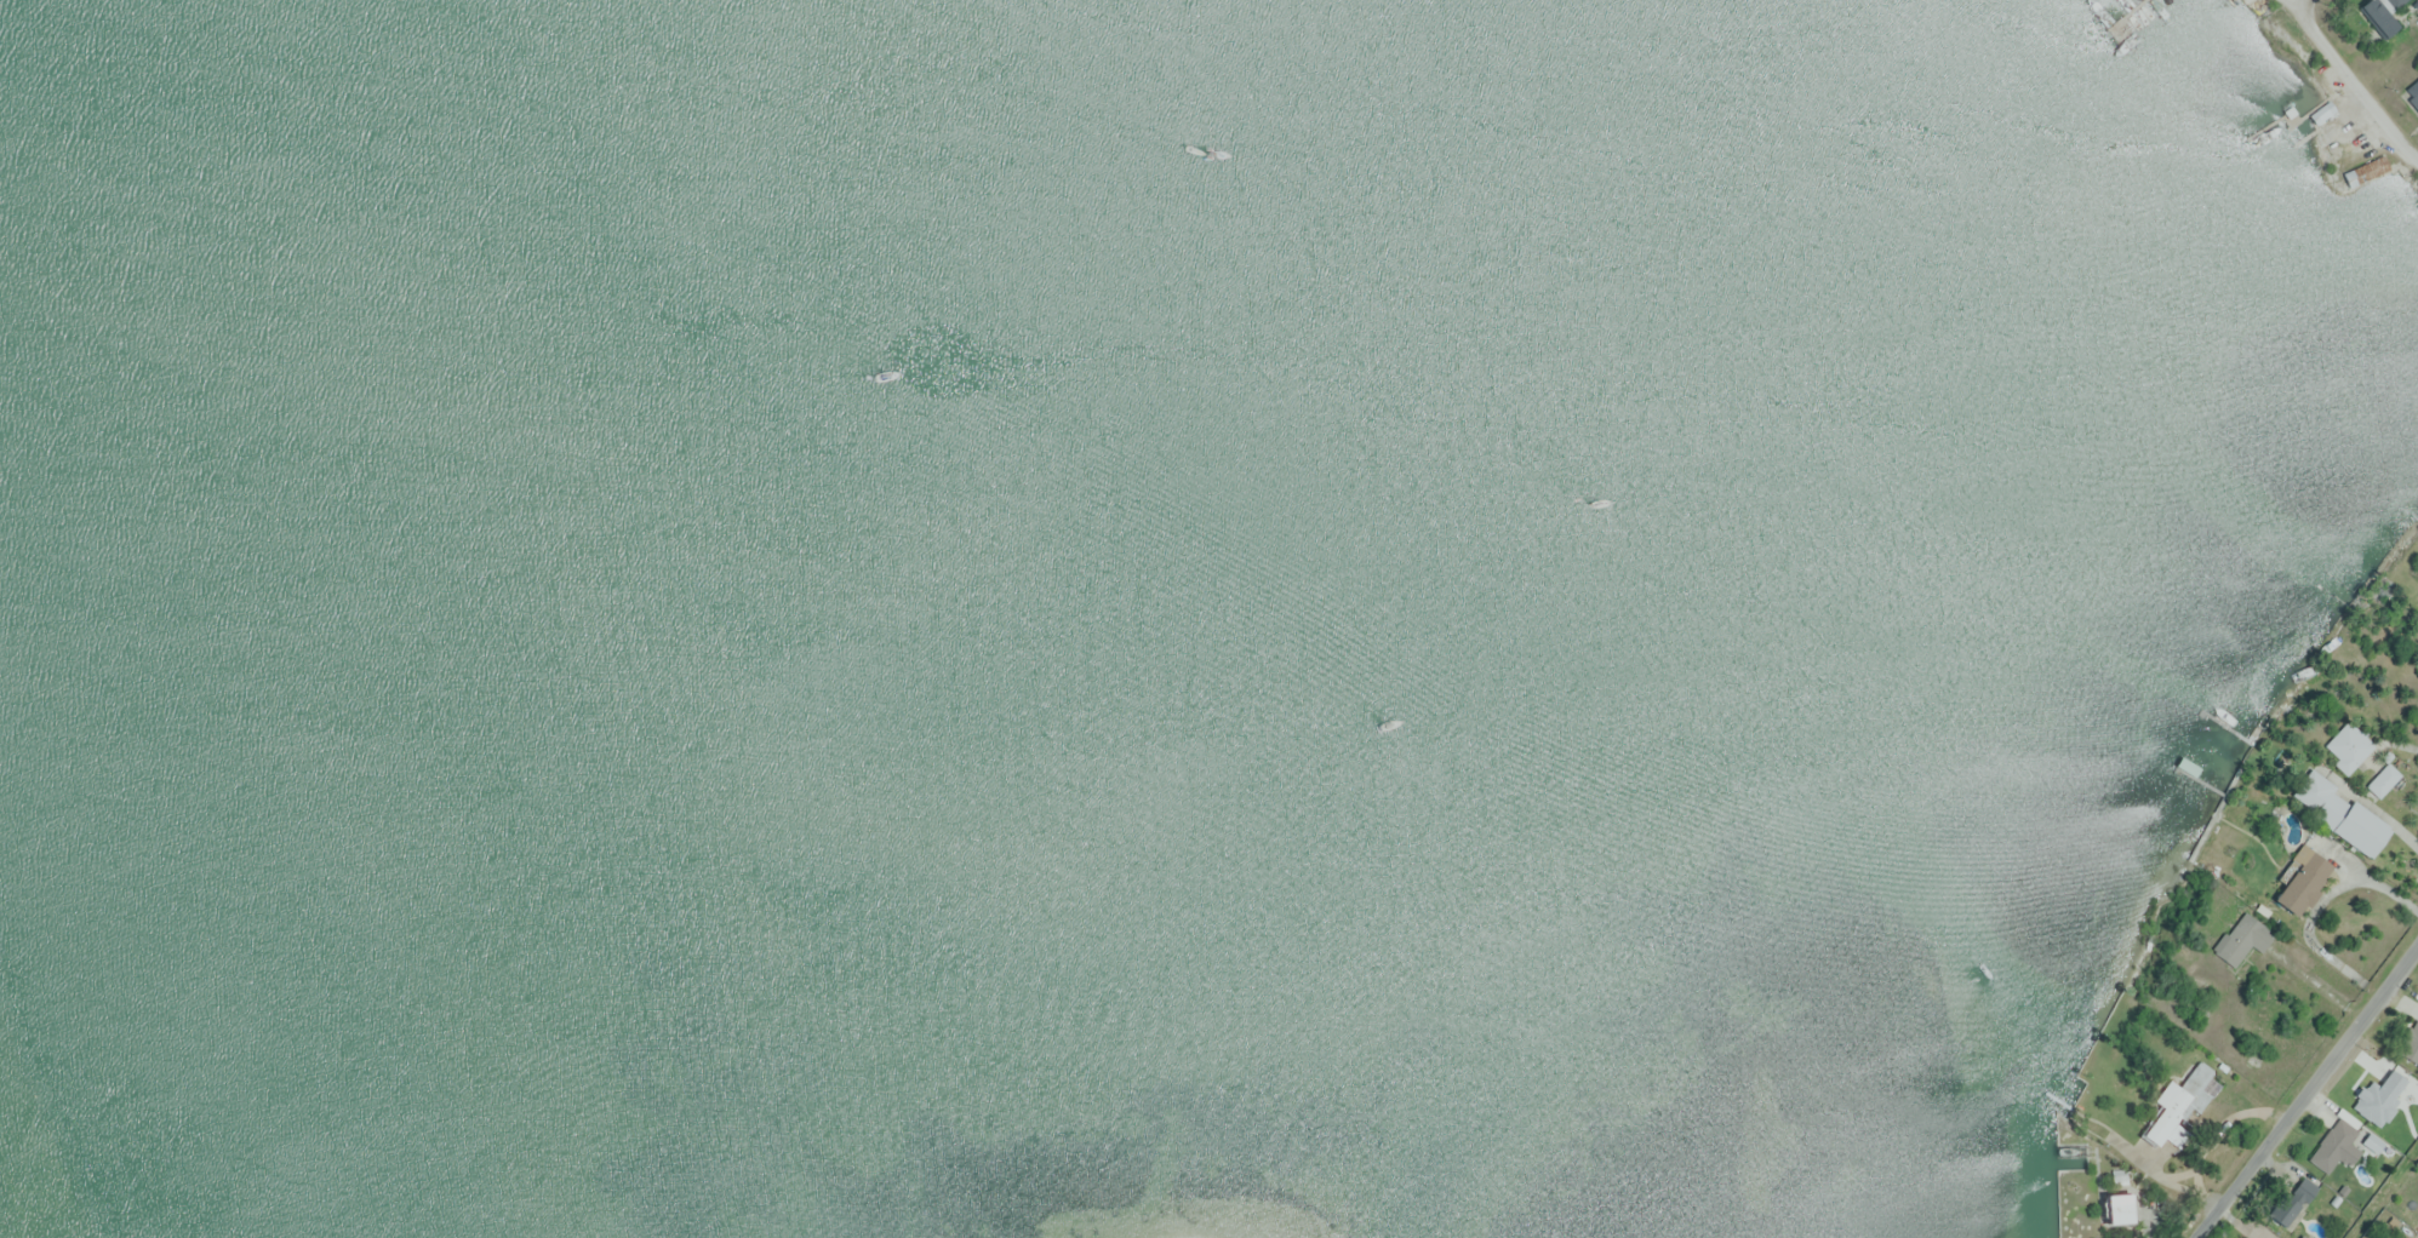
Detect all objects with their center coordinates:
building: (2394, 4)
building: (2378, 17)
road: (2354, 80)
building: (2412, 96)
building: (2319, 114)
building: (2366, 171)
building: (2349, 745)
building: (2383, 779)
building: (2339, 812)
road: (2384, 813)
building: (2300, 881)
building: (2241, 939)
building: (2411, 1043)
road: (2309, 1093)
building: (2180, 1101)
building: (2336, 1147)
building: (2116, 1208)
building: (2283, 1210)
building: (2240, 1237)

